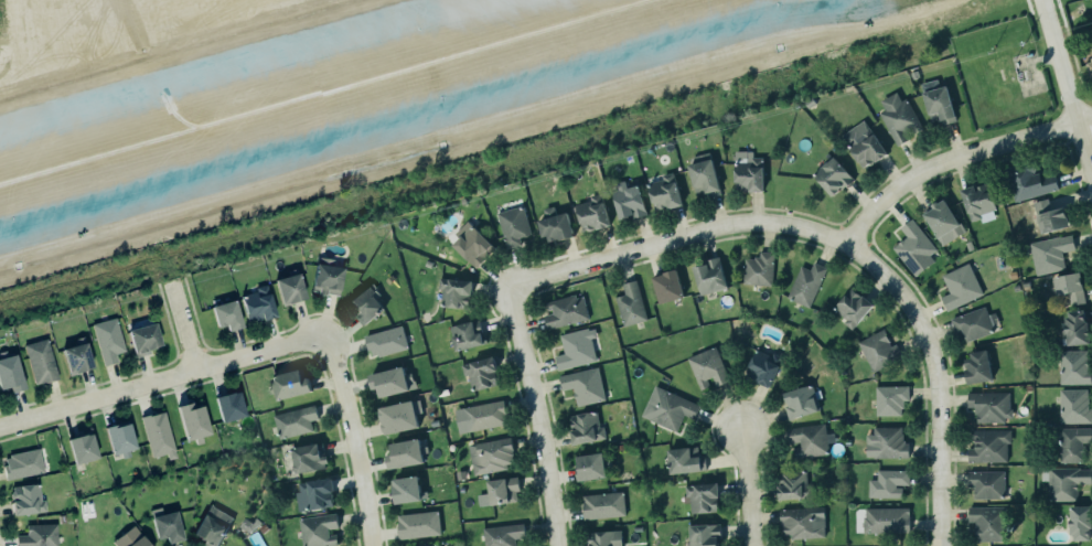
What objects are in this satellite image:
road: (124, 4)
building: (1091, 52)
building: (1090, 67)
road: (1067, 75)
building: (936, 101)
building: (899, 118)
building: (861, 143)
road: (954, 159)
building: (748, 171)
building: (831, 175)
building: (704, 176)
building: (1026, 180)
building: (664, 192)
building: (629, 200)
building: (978, 203)
building: (592, 213)
building: (1050, 216)
building: (941, 221)
building: (553, 224)
building: (512, 225)
building: (470, 243)
building: (911, 245)
building: (1050, 254)
building: (759, 269)
building: (708, 275)
road: (546, 276)
building: (326, 277)
building: (806, 285)
building: (957, 285)
building: (667, 286)
building: (1068, 286)
building: (452, 287)
building: (288, 288)
building: (363, 301)
building: (629, 303)
building: (257, 304)
building: (853, 307)
building: (224, 310)
building: (563, 310)
building: (975, 323)
building: (1074, 328)
road: (183, 329)
building: (464, 333)
building: (141, 339)
building: (384, 340)
building: (108, 341)
building: (575, 347)
building: (879, 350)
building: (76, 358)
building: (40, 362)
building: (762, 366)
building: (1074, 366)
building: (977, 367)
building: (708, 368)
building: (481, 373)
building: (9, 374)
road: (933, 378)
road: (161, 379)
building: (389, 381)
building: (288, 384)
building: (582, 385)
building: (890, 399)
building: (800, 402)
building: (987, 405)
building: (228, 406)
building: (1074, 406)
building: (666, 407)
building: (484, 411)
building: (395, 416)
building: (191, 421)
building: (292, 421)
building: (586, 427)
building: (158, 436)
building: (118, 439)
road: (353, 439)
building: (809, 440)
building: (886, 442)
building: (1071, 443)
building: (989, 446)
building: (82, 449)
building: (405, 453)
building: (489, 453)
building: (309, 458)
building: (684, 459)
building: (588, 461)
building: (21, 463)
building: (1064, 482)
building: (888, 483)
building: (792, 484)
building: (986, 484)
building: (407, 489)
road: (745, 489)
building: (503, 491)
building: (312, 493)
building: (700, 496)
building: (26, 500)
building: (602, 505)
building: (886, 520)
building: (802, 522)
building: (987, 523)
building: (1080, 523)
building: (418, 524)
building: (164, 525)
building: (212, 526)
building: (317, 528)
building: (501, 534)
building: (39, 535)
building: (704, 535)
building: (603, 538)
building: (139, 542)
building: (431, 545)

